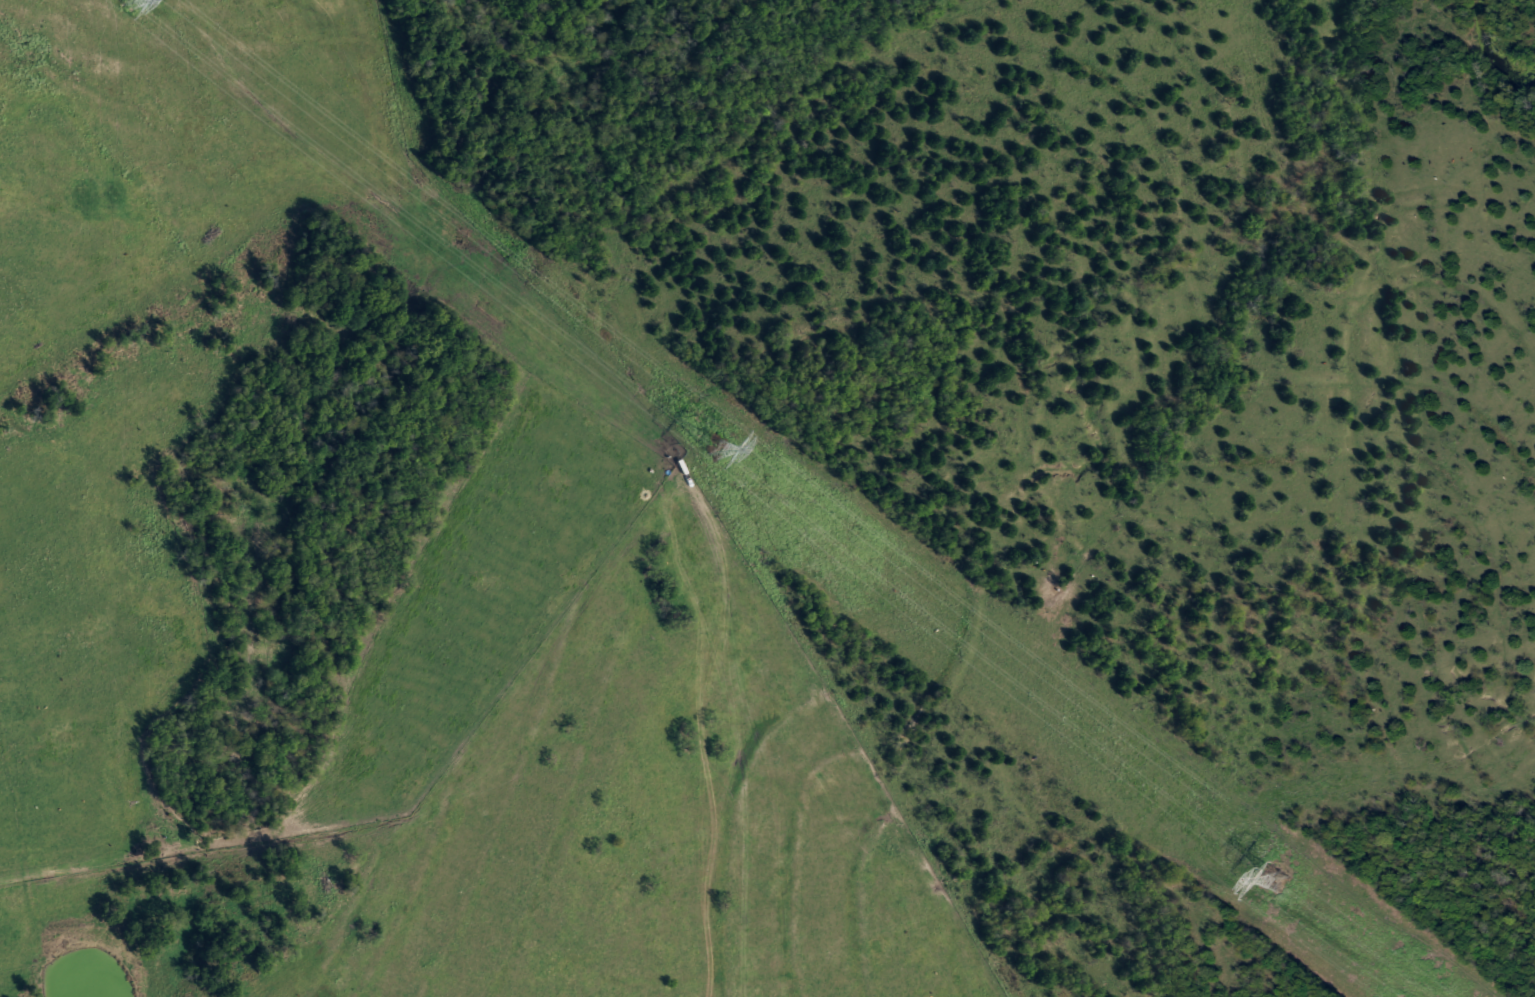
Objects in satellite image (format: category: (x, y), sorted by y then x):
power tower: (708, 448)
power tower: (1269, 882)

